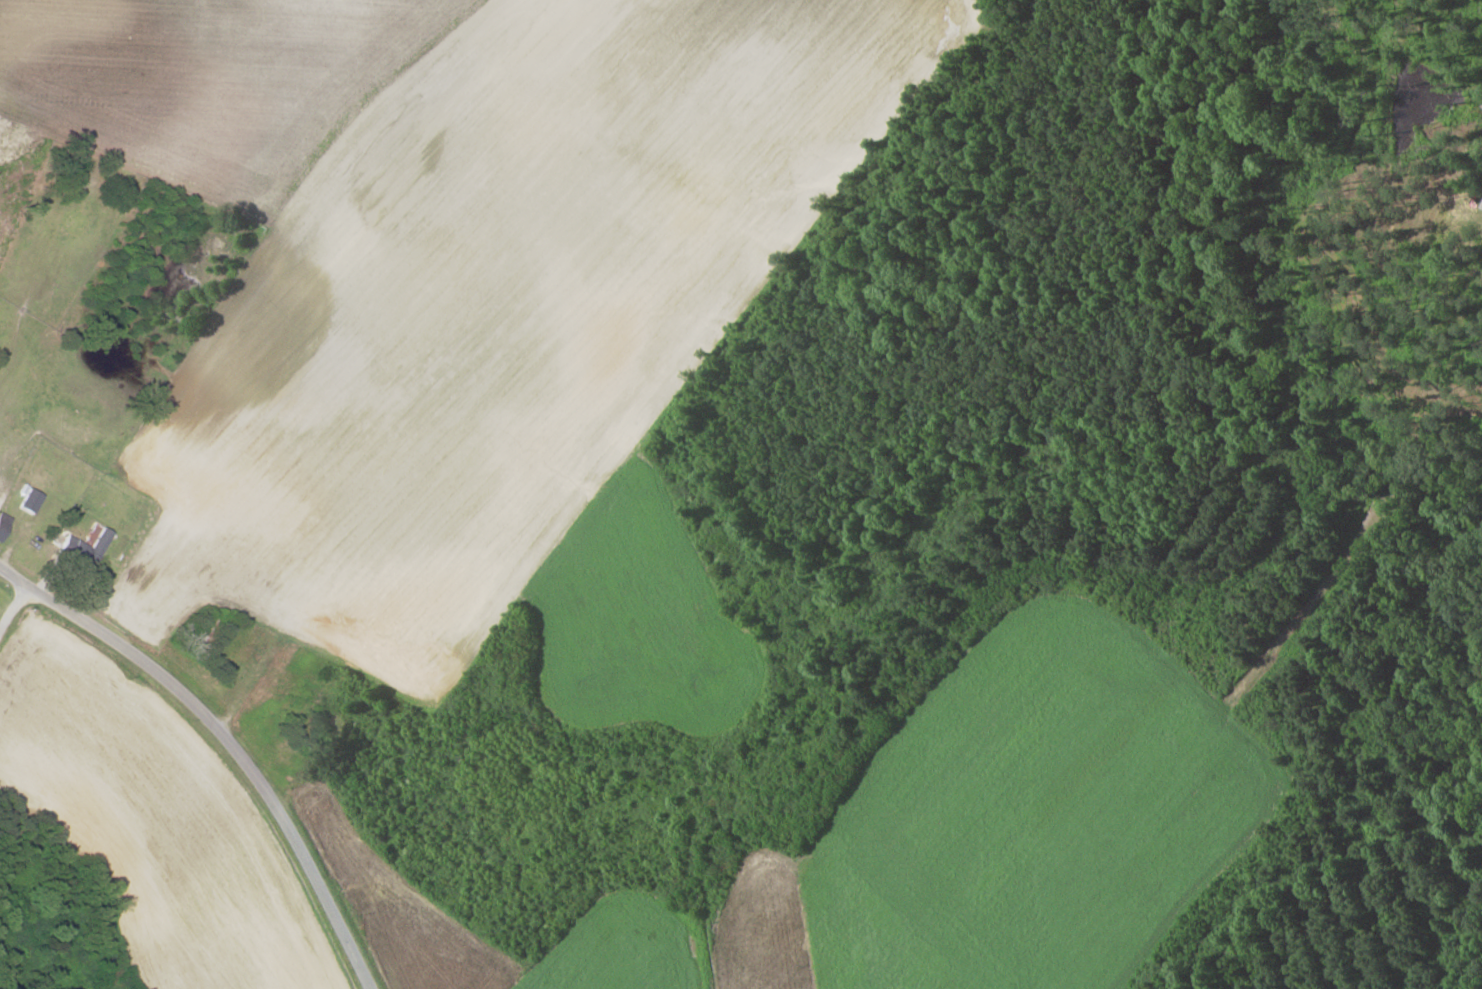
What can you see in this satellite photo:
building: (29, 500)
building: (3, 522)
building: (62, 540)
building: (97, 541)
road: (223, 748)

